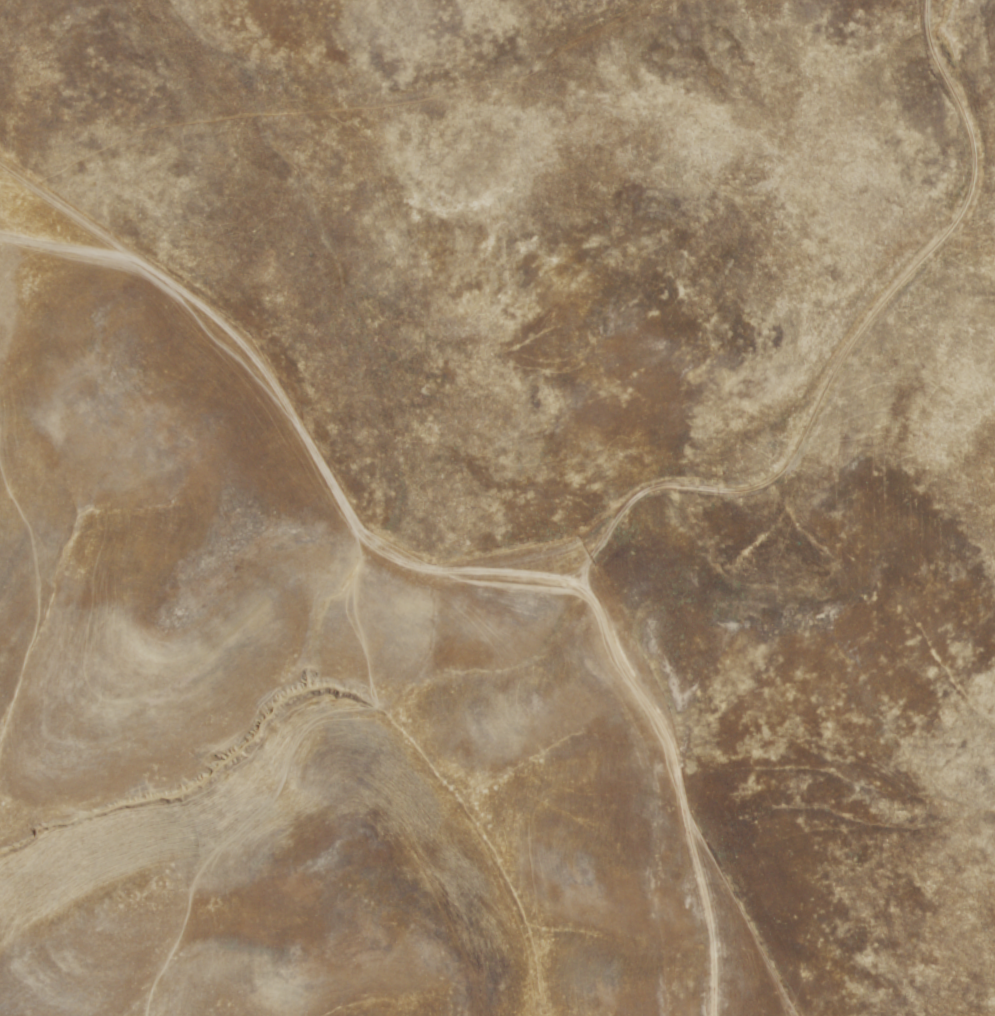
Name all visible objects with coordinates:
road: (852, 348)
road: (432, 565)

